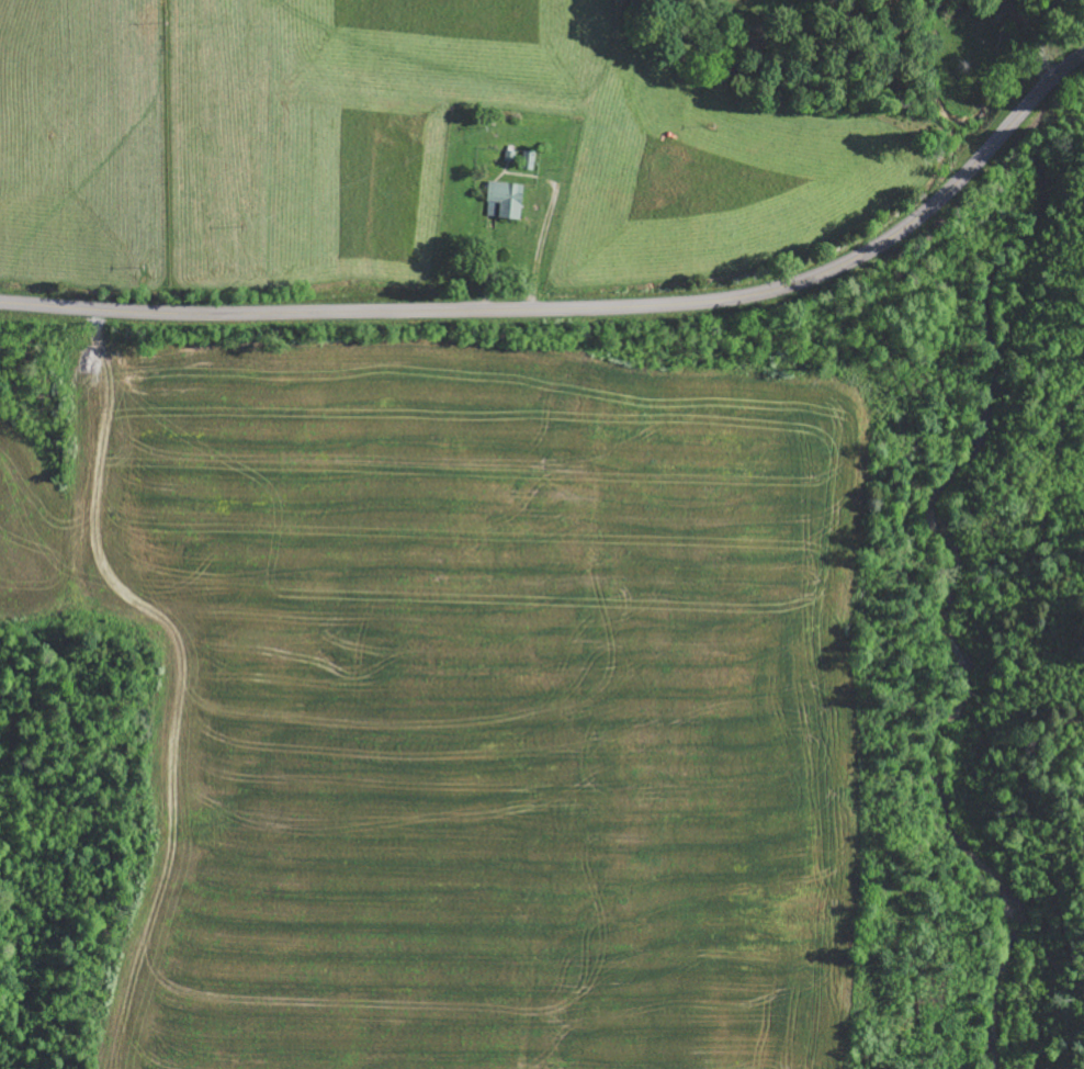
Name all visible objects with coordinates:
building: (507, 201)
road: (583, 307)

